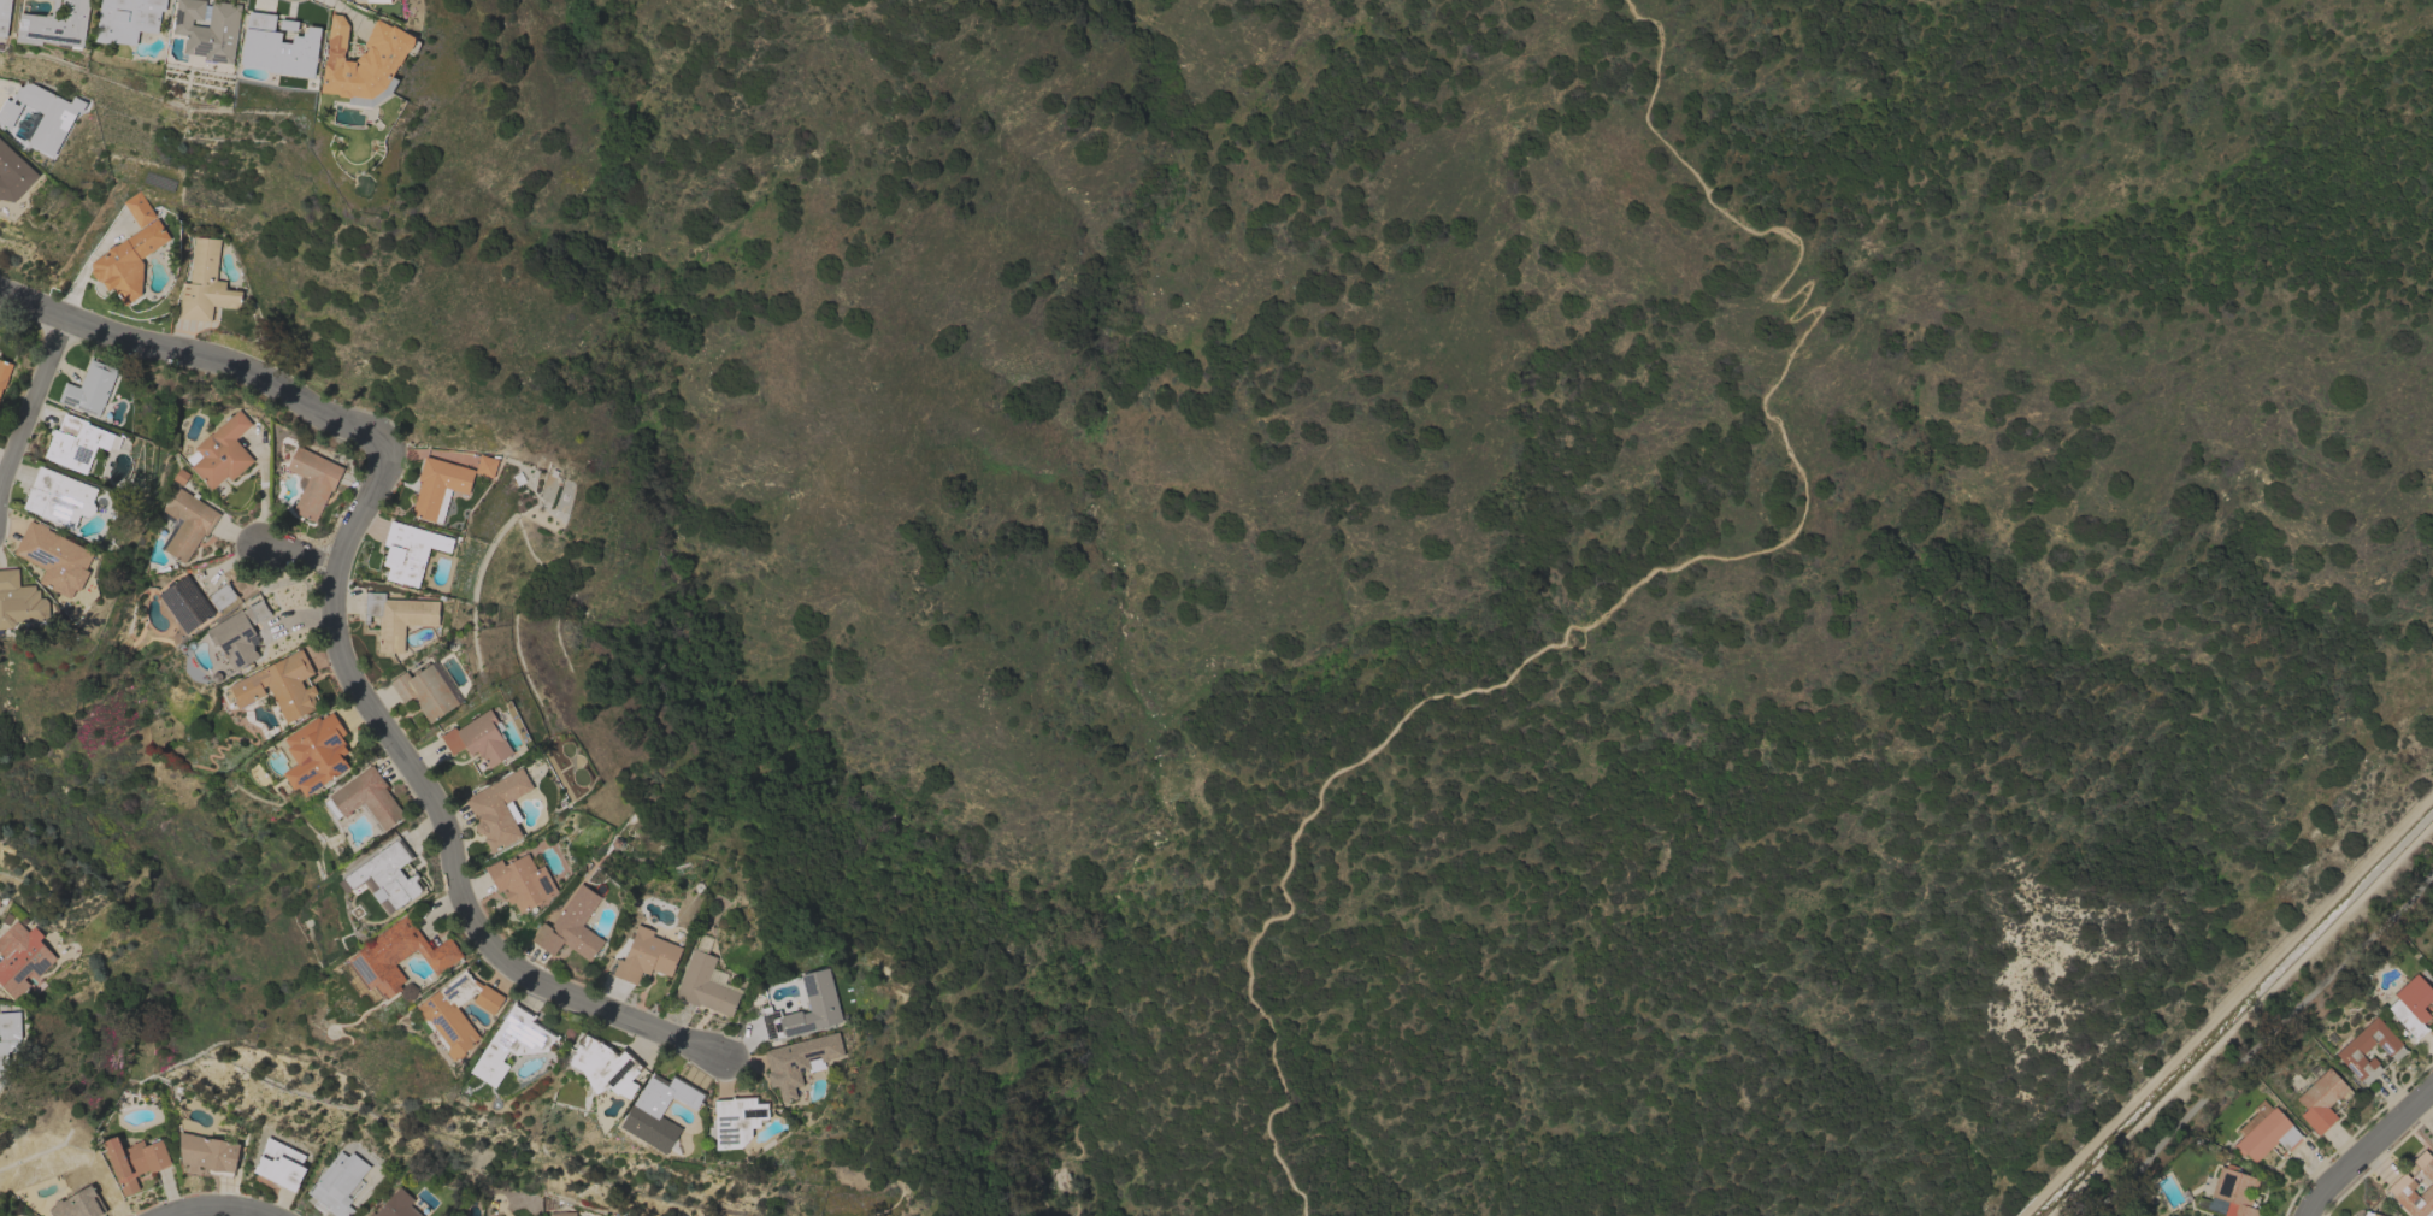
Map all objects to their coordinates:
building: (381, 0)
building: (4, 16)
building: (128, 19)
building: (57, 24)
building: (208, 28)
building: (281, 48)
building: (366, 63)
building: (42, 114)
building: (14, 173)
building: (139, 208)
building: (128, 261)
building: (205, 283)
road: (199, 354)
building: (4, 372)
building: (90, 388)
road: (34, 408)
building: (76, 442)
building: (220, 451)
building: (485, 465)
building: (312, 480)
building: (438, 486)
building: (60, 497)
road: (365, 510)
building: (185, 524)
building: (411, 551)
road: (298, 556)
building: (55, 557)
road: (1662, 568)
building: (222, 596)
building: (19, 601)
building: (183, 606)
building: (397, 618)
building: (238, 633)
building: (278, 686)
building: (428, 690)
building: (479, 738)
building: (316, 754)
building: (366, 799)
building: (497, 809)
building: (388, 874)
road: (455, 880)
building: (520, 880)
building: (572, 926)
building: (646, 956)
building: (20, 957)
building: (393, 958)
building: (706, 981)
building: (819, 990)
building: (2411, 1005)
building: (458, 1010)
building: (8, 1034)
road: (2258, 1040)
building: (512, 1043)
building: (2350, 1051)
building: (799, 1061)
building: (606, 1066)
building: (2321, 1097)
building: (660, 1110)
building: (736, 1120)
building: (2264, 1132)
road: (2368, 1149)
building: (208, 1153)
building: (135, 1161)
building: (281, 1164)
building: (2403, 1181)
building: (338, 1183)
building: (2229, 1193)
building: (78, 1204)
building: (396, 1205)
road: (218, 1209)
building: (561, 1212)
building: (2368, 1214)

